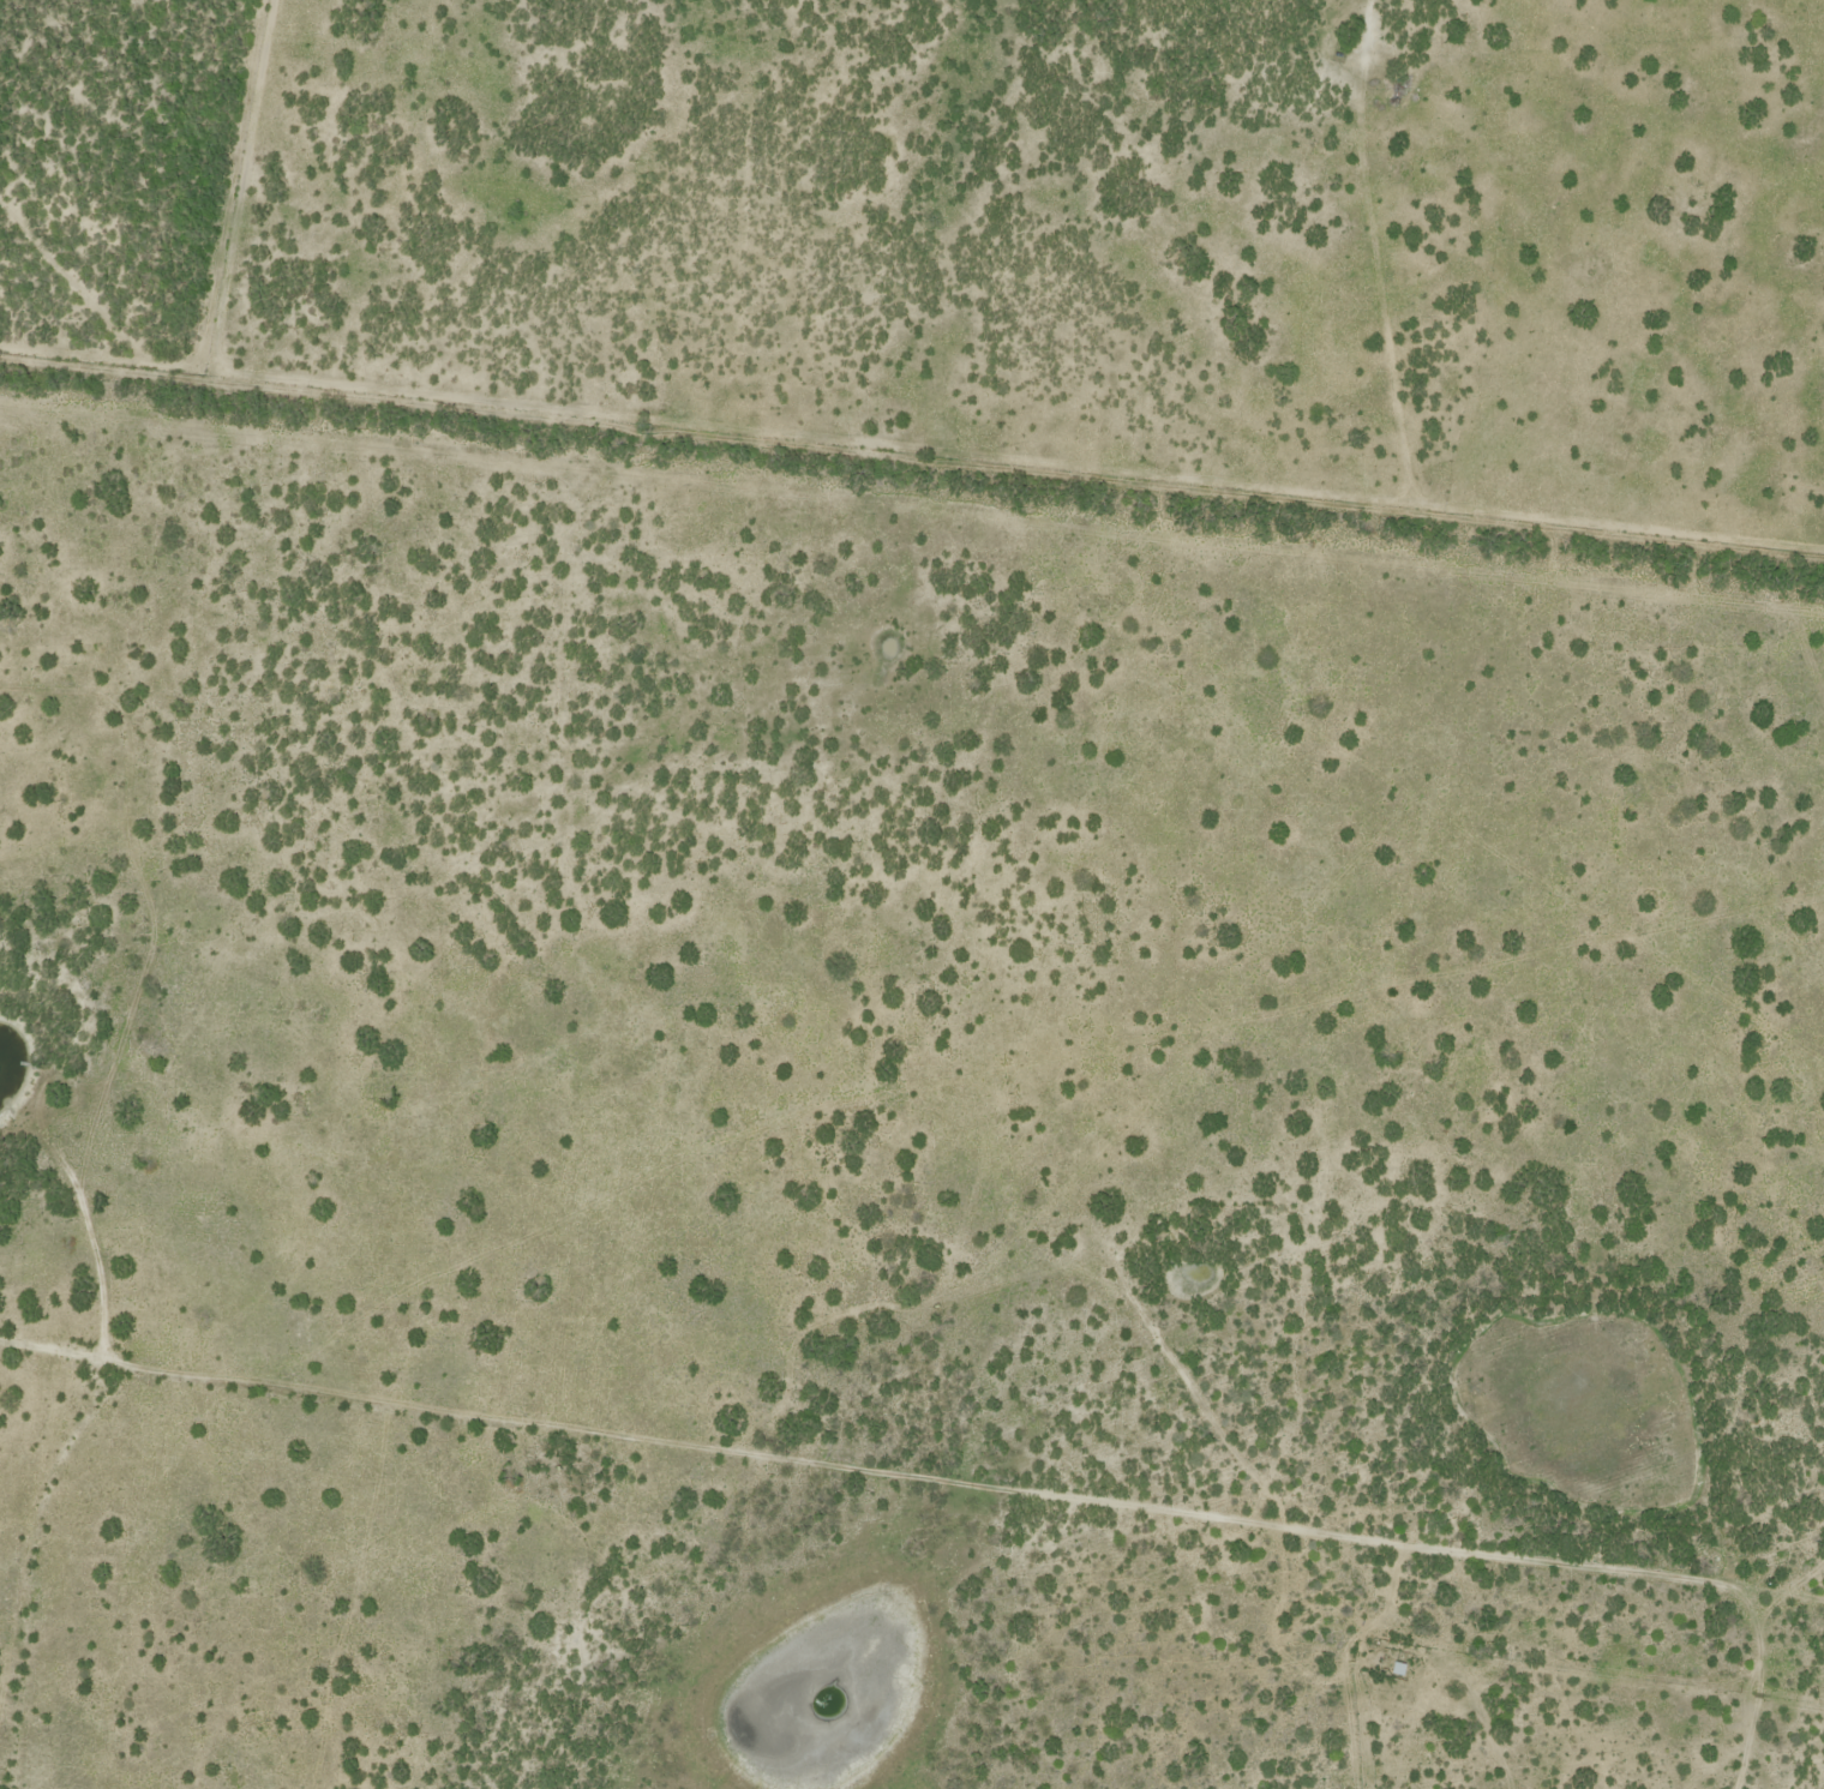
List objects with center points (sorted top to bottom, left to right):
building: (1399, 1668)

